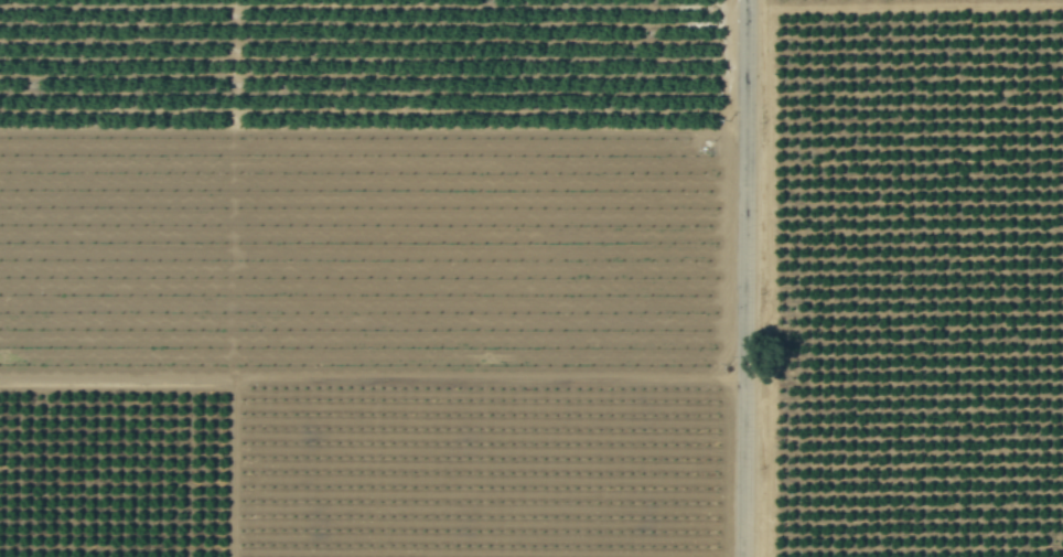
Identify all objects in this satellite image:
road: (741, 278)

